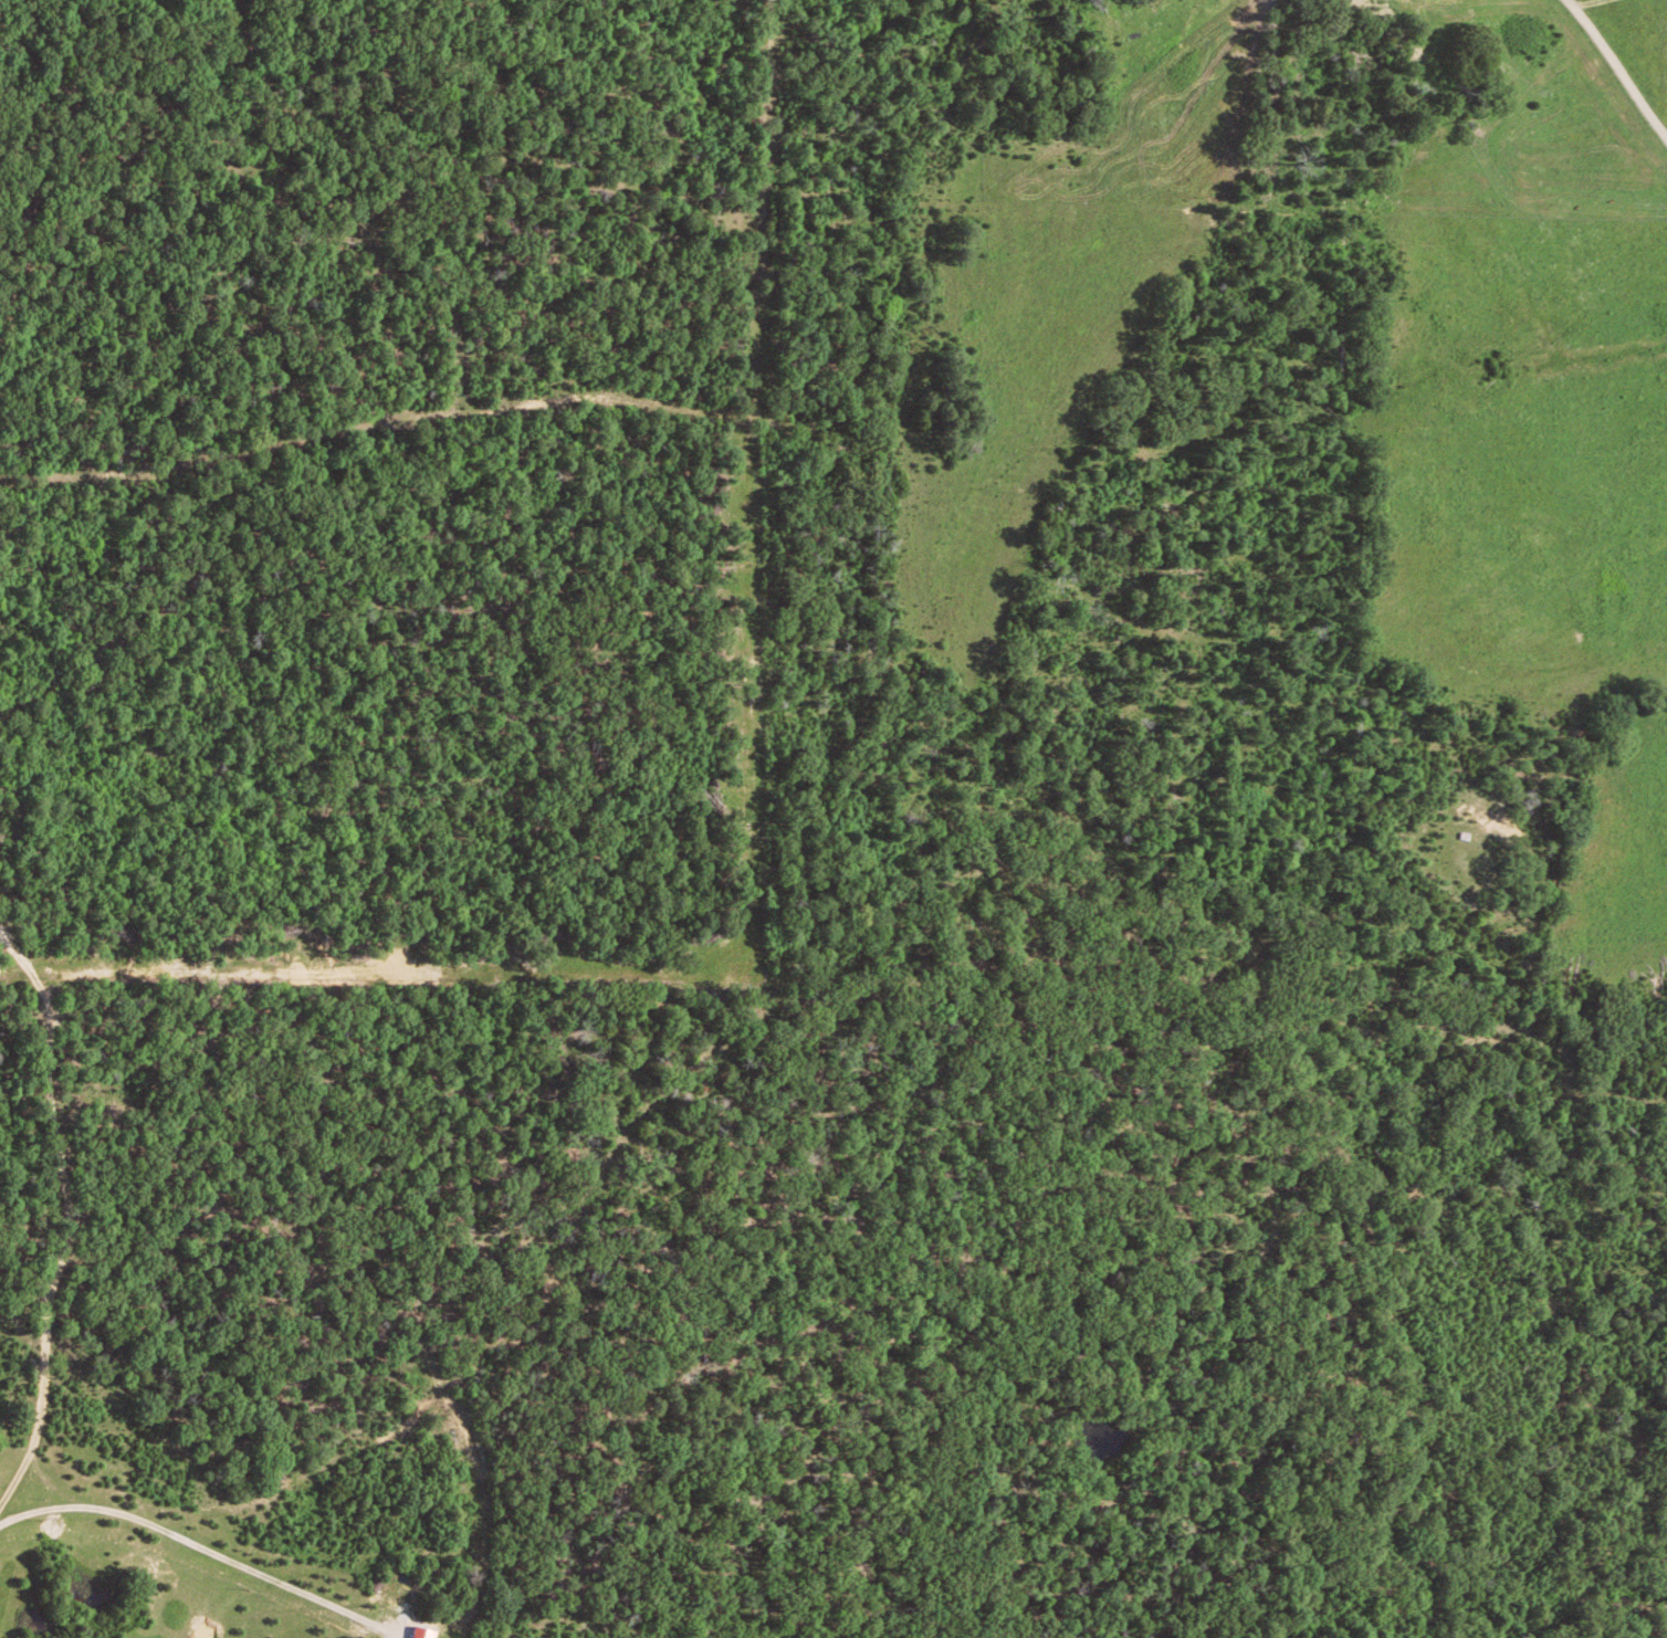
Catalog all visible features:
road: (367, 419)
road: (755, 895)
road: (66, 1214)
road: (42, 1481)
road: (205, 1548)
building: (426, 1632)

